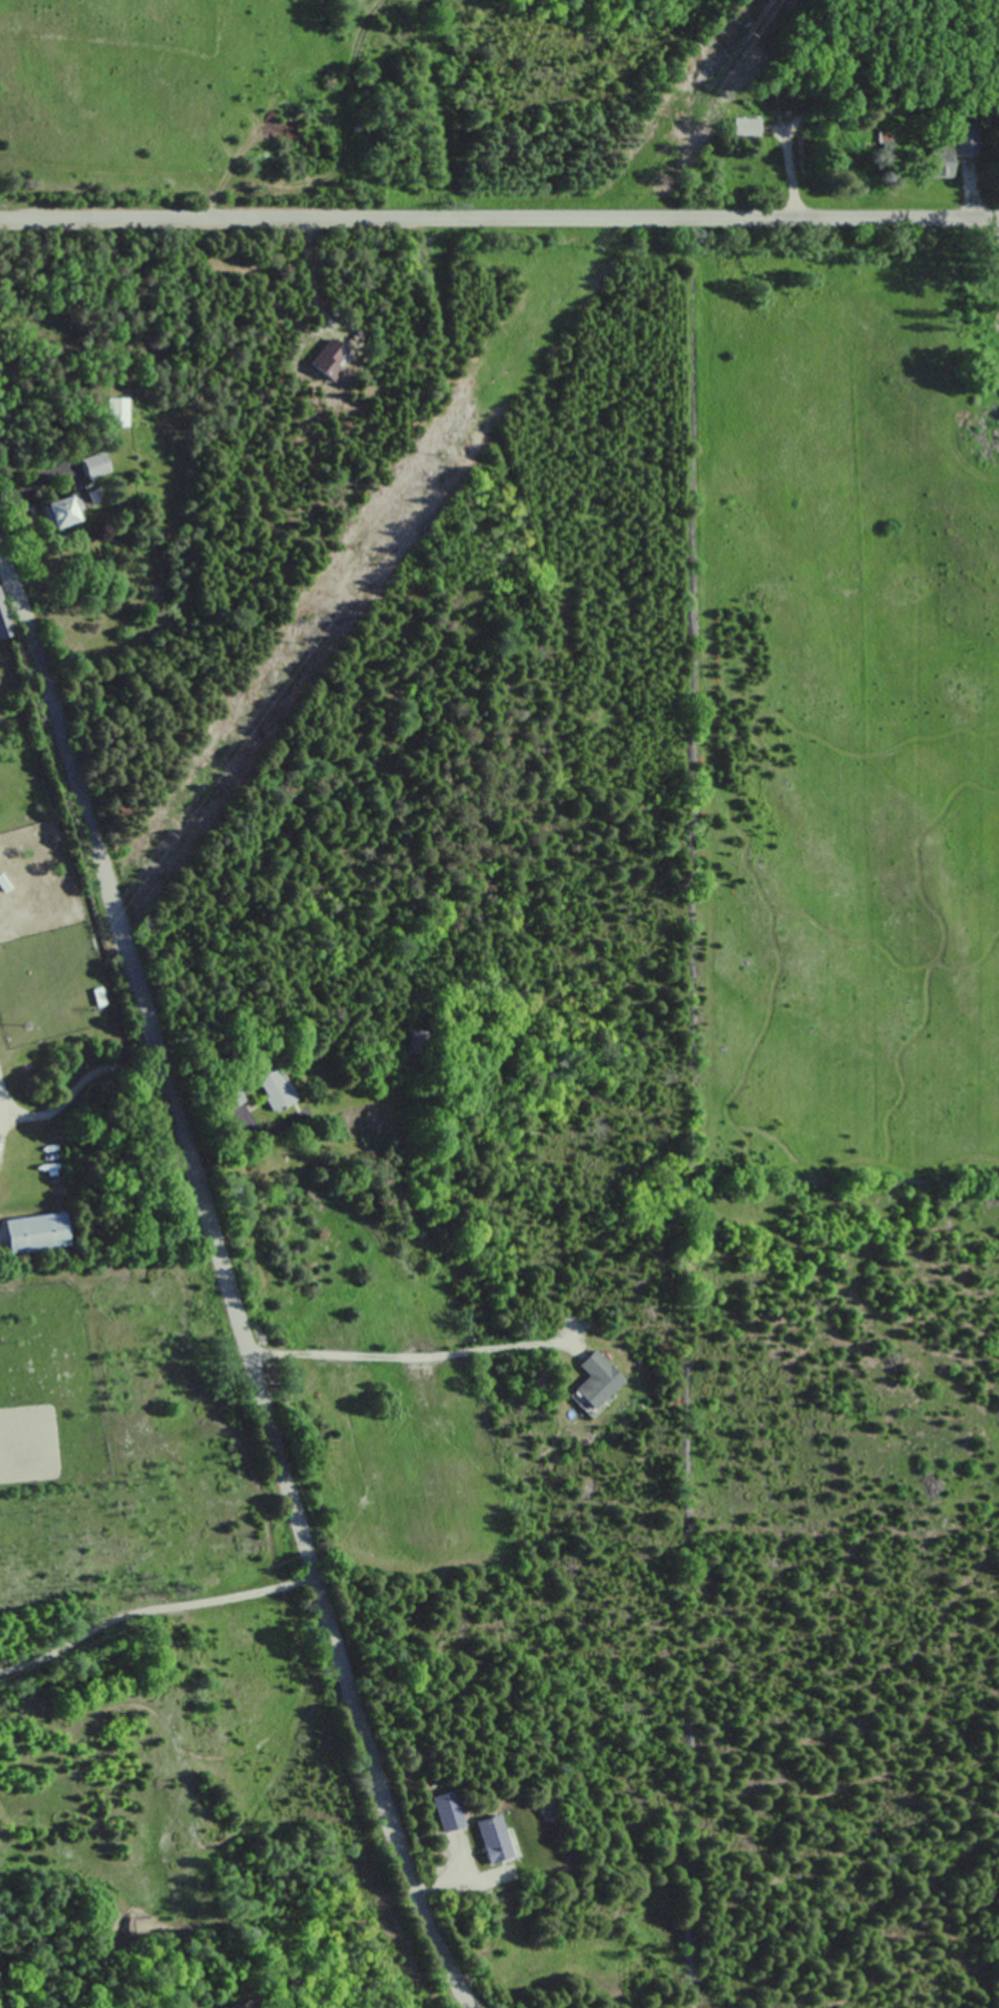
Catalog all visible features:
power tower: (745, 34)
building: (743, 129)
building: (953, 150)
road: (788, 176)
road: (969, 194)
road: (499, 218)
power tower: (592, 244)
building: (116, 412)
power tower: (442, 454)
building: (93, 465)
building: (59, 511)
building: (3, 623)
power tower: (304, 643)
power tower: (170, 832)
power tower: (25, 1026)
building: (415, 1042)
road: (78, 1086)
building: (274, 1089)
road: (3, 1108)
building: (34, 1233)
road: (228, 1287)
road: (408, 1357)
building: (595, 1379)
road: (151, 1608)
building: (444, 1811)
building: (491, 1838)
road: (438, 1884)
building: (236, 2007)

